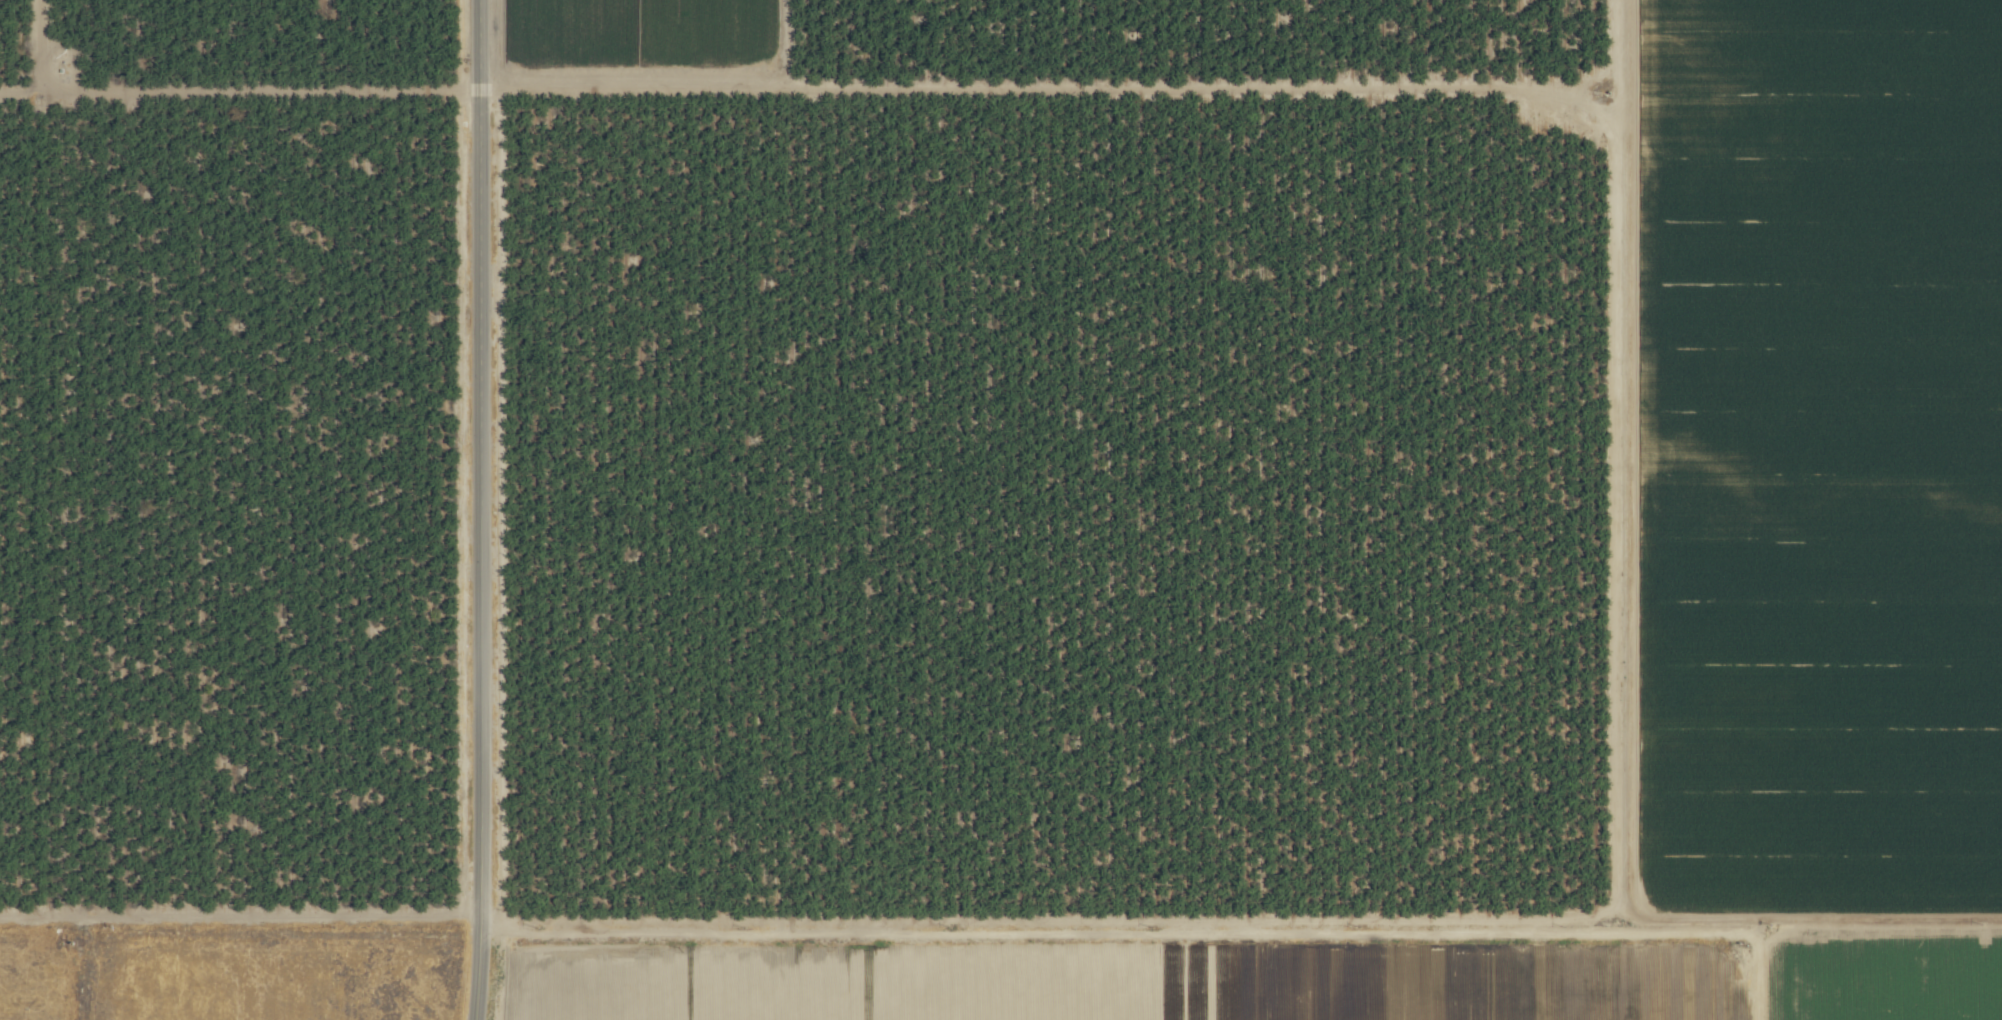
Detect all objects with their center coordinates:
road: (479, 510)
crop: (1001, 510)

